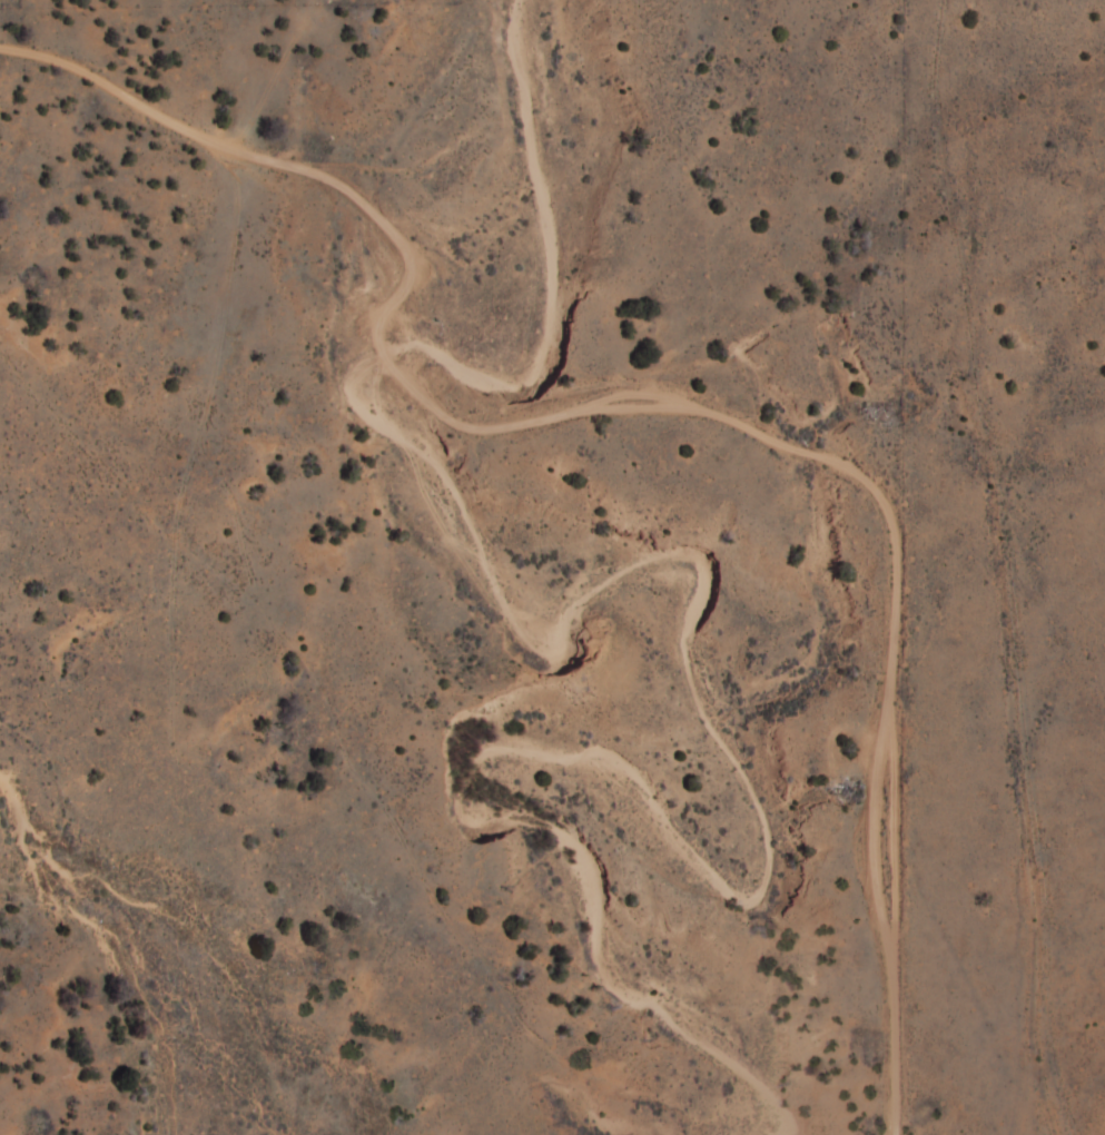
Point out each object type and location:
road: (629, 448)
road: (881, 747)

